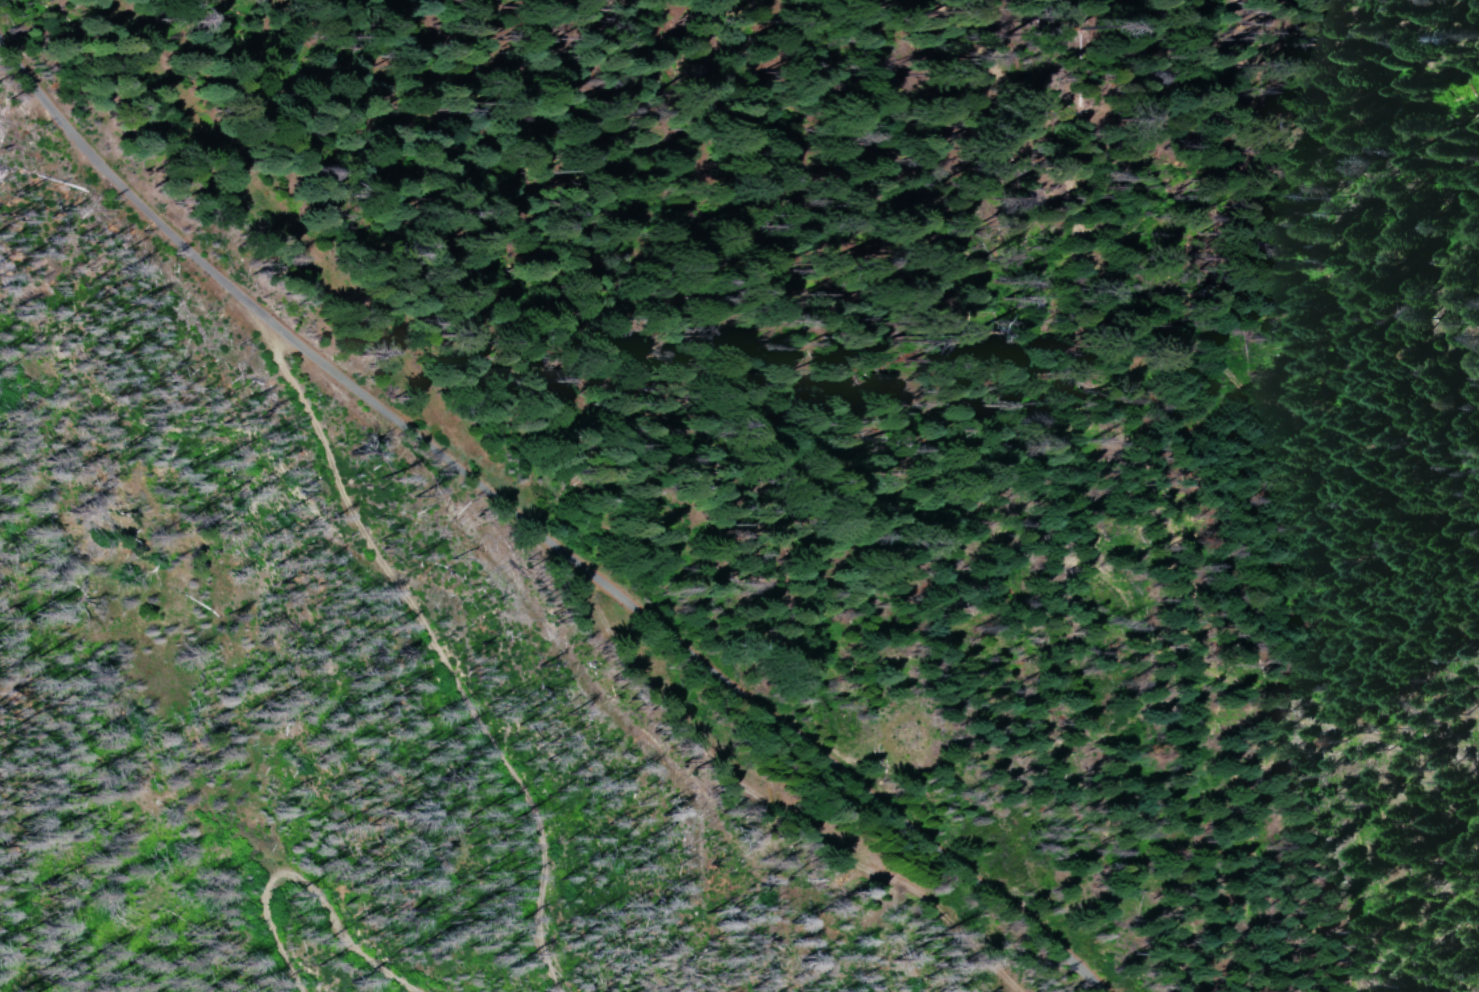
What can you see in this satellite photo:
road: (1164, 318)
road: (556, 524)

